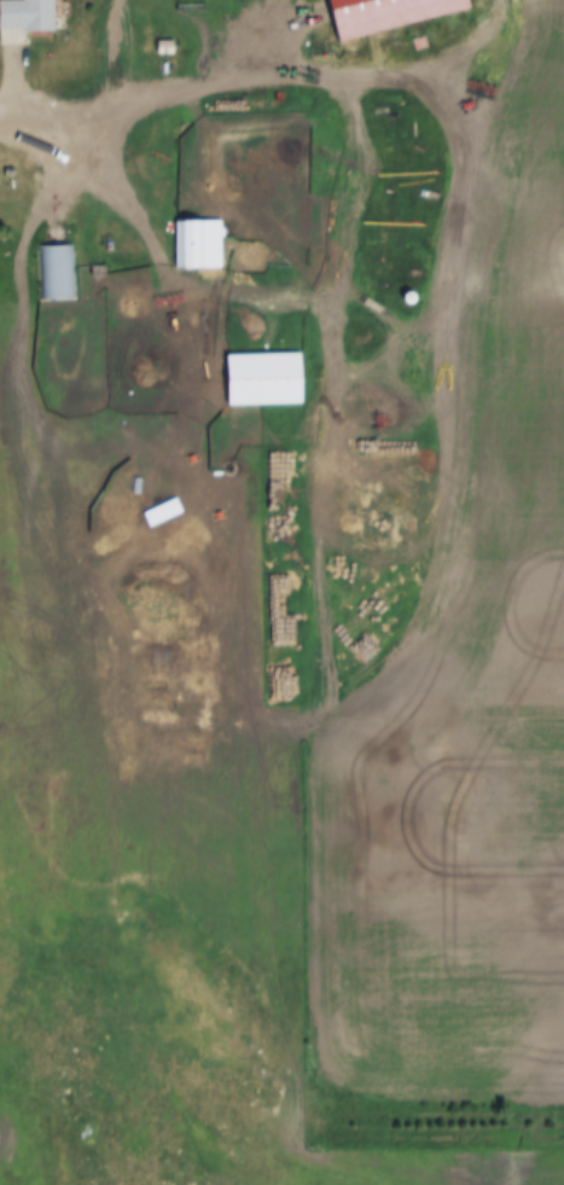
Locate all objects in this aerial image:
building: (31, 14)
road: (54, 138)
building: (203, 246)
building: (57, 273)
building: (273, 381)
building: (187, 523)

